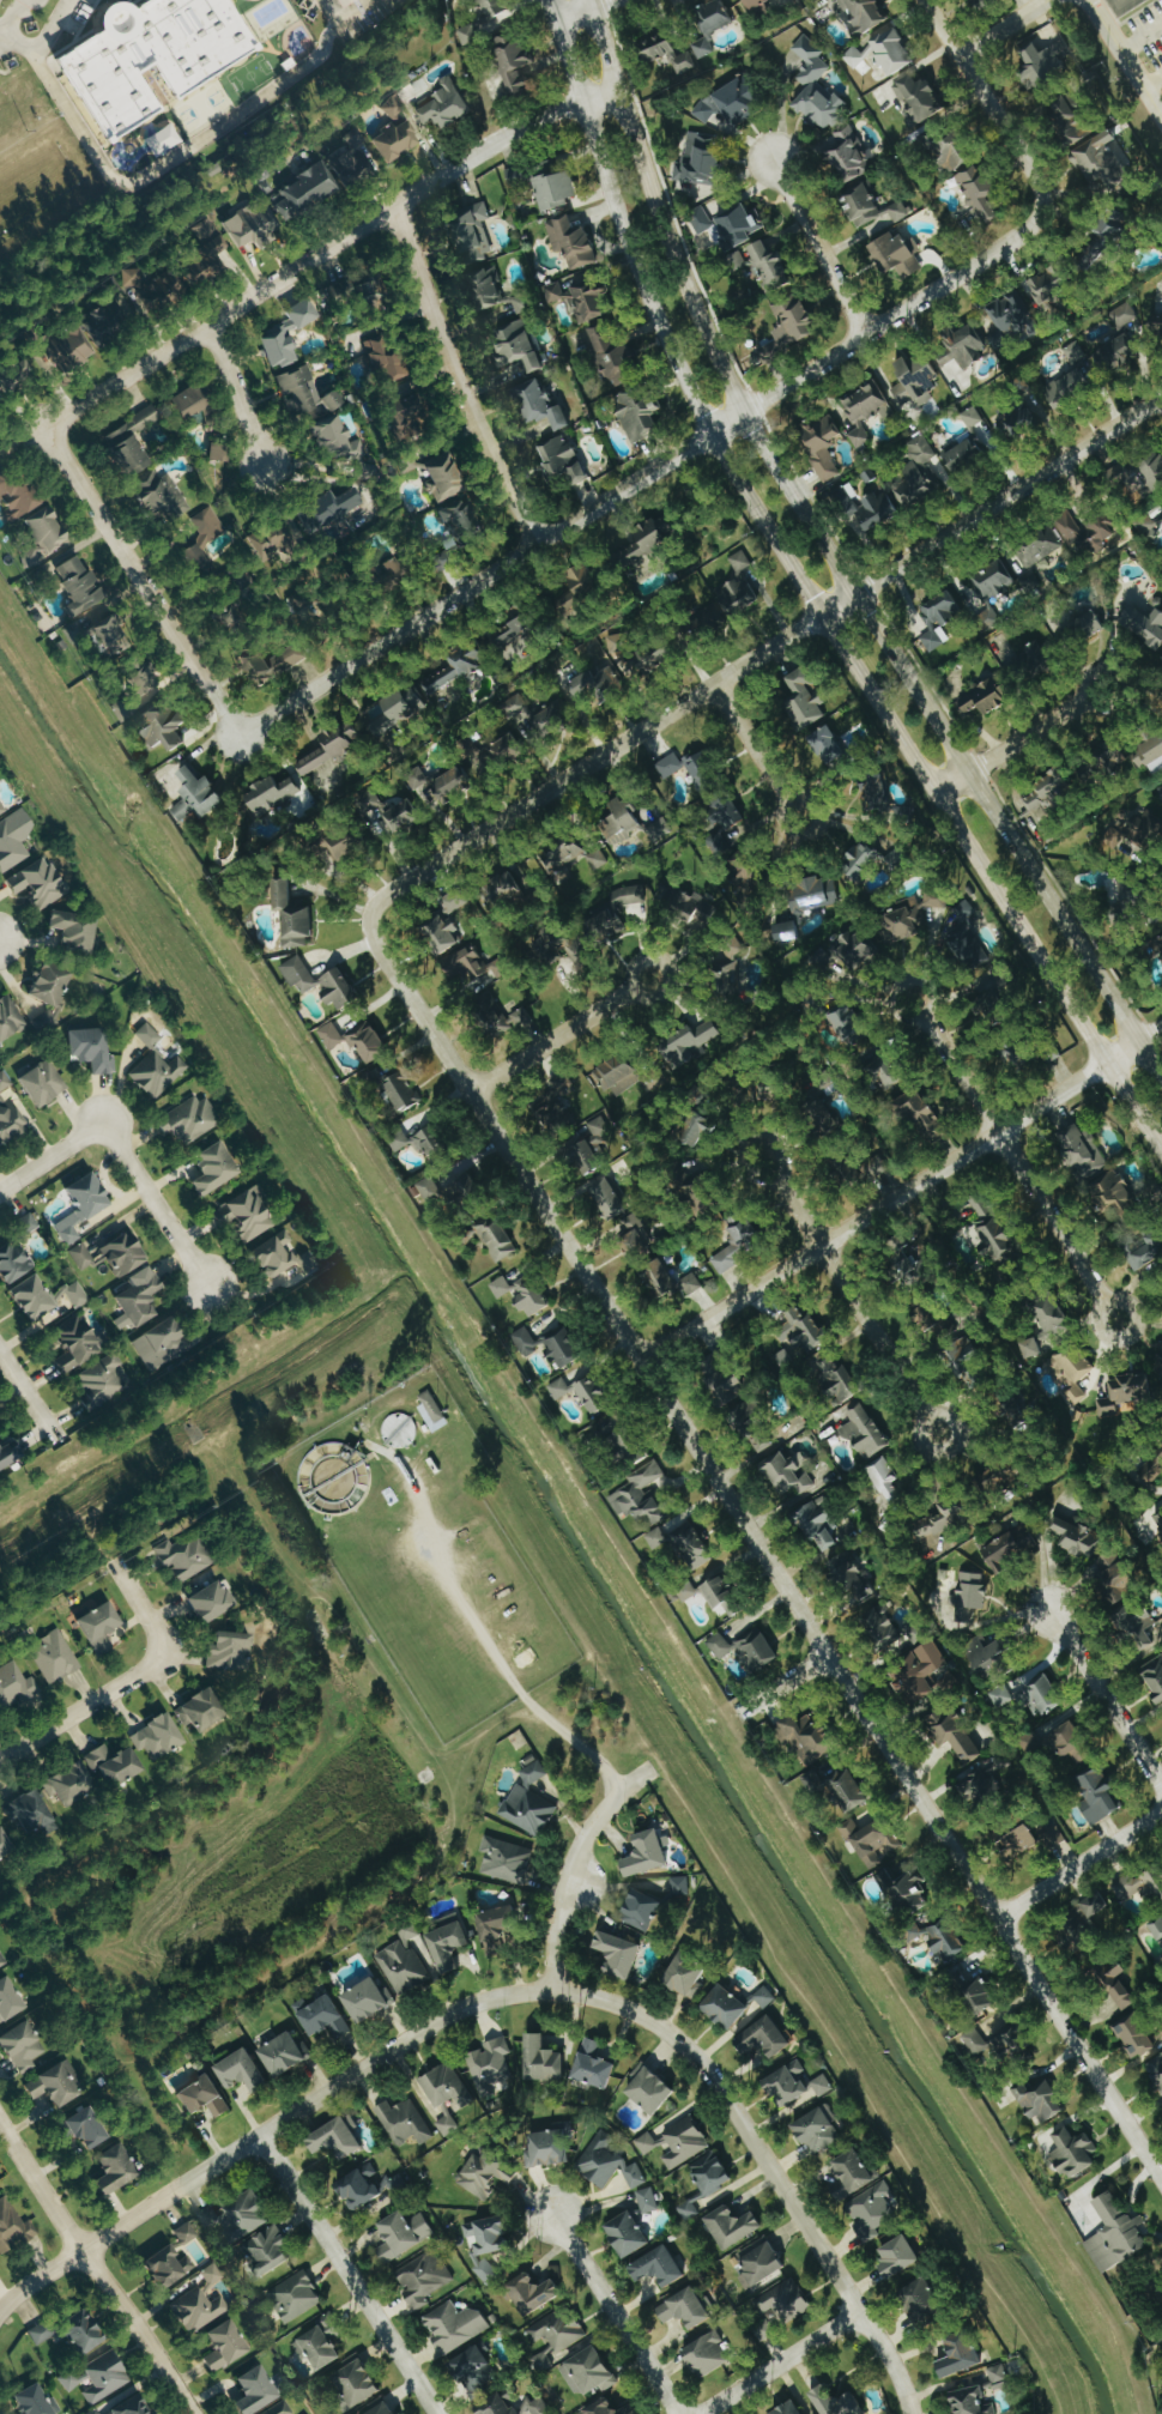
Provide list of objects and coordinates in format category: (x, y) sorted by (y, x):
road: (1045, 1)
building: (979, 2)
road: (587, 4)
building: (494, 7)
building: (757, 7)
road: (549, 10)
road: (581, 10)
building: (861, 14)
road: (349, 17)
building: (713, 17)
road: (10, 18)
road: (48, 28)
road: (1001, 29)
building: (467, 34)
road: (1140, 37)
building: (702, 48)
building: (666, 53)
building: (882, 54)
building: (147, 55)
road: (1124, 58)
building: (1046, 62)
road: (1152, 83)
building: (816, 86)
building: (918, 97)
building: (731, 102)
building: (442, 105)
building: (393, 107)
road: (993, 110)
building: (1070, 119)
building: (161, 140)
building: (394, 140)
building: (951, 151)
building: (846, 153)
building: (353, 155)
building: (698, 159)
building: (1100, 164)
road: (159, 167)
building: (543, 169)
building: (514, 175)
building: (307, 187)
building: (555, 190)
building: (978, 193)
building: (860, 205)
building: (282, 206)
building: (897, 211)
building: (701, 219)
building: (249, 225)
building: (736, 226)
building: (202, 229)
building: (472, 232)
building: (571, 242)
building: (1102, 243)
road: (818, 247)
road: (327, 250)
building: (895, 255)
building: (736, 261)
building: (200, 264)
building: (768, 266)
building: (1043, 284)
building: (483, 288)
building: (327, 296)
building: (364, 296)
building: (579, 300)
building: (120, 304)
building: (519, 304)
road: (700, 310)
building: (1124, 314)
building: (1006, 315)
building: (794, 320)
building: (284, 337)
building: (516, 346)
building: (66, 350)
building: (1115, 353)
building: (610, 357)
building: (383, 362)
building: (13, 377)
building: (1070, 379)
road: (460, 380)
building: (915, 381)
building: (305, 394)
road: (240, 399)
building: (188, 401)
building: (538, 405)
building: (866, 405)
building: (636, 415)
building: (405, 417)
building: (972, 417)
building: (1016, 424)
building: (859, 436)
building: (333, 440)
building: (128, 443)
building: (821, 446)
building: (217, 452)
building: (963, 456)
building: (562, 461)
building: (918, 473)
building: (1151, 473)
building: (434, 474)
building: (1118, 474)
road: (636, 483)
building: (13, 495)
building: (157, 495)
building: (328, 508)
building: (861, 509)
building: (206, 526)
building: (1146, 528)
building: (459, 530)
building: (271, 533)
building: (1087, 533)
building: (40, 536)
building: (643, 542)
building: (1036, 550)
building: (193, 562)
building: (392, 573)
building: (240, 579)
building: (994, 581)
building: (75, 585)
road: (141, 586)
building: (576, 587)
building: (728, 597)
building: (301, 604)
road: (817, 605)
building: (937, 619)
building: (1144, 625)
building: (1085, 627)
building: (510, 634)
building: (95, 637)
building: (618, 643)
road: (758, 654)
building: (292, 657)
building: (1035, 659)
building: (633, 661)
building: (454, 668)
building: (258, 670)
building: (137, 673)
building: (597, 685)
building: (803, 700)
building: (984, 700)
building: (515, 706)
building: (393, 712)
building: (549, 721)
building: (163, 726)
road: (1018, 739)
building: (825, 744)
building: (329, 748)
road: (756, 751)
building: (500, 752)
building: (1150, 755)
building: (1107, 758)
building: (668, 766)
building: (701, 773)
building: (438, 786)
building: (1046, 791)
building: (876, 794)
building: (270, 795)
building: (195, 797)
building: (0, 811)
building: (387, 816)
building: (619, 822)
building: (722, 824)
building: (659, 829)
building: (1144, 830)
road: (1009, 831)
building: (1113, 837)
building: (13, 840)
building: (339, 846)
building: (571, 859)
building: (872, 860)
building: (36, 884)
building: (502, 889)
building: (812, 895)
building: (629, 896)
building: (1127, 901)
building: (453, 902)
building: (686, 908)
building: (963, 909)
building: (291, 915)
building: (912, 915)
building: (603, 928)
building: (71, 931)
building: (786, 932)
building: (441, 934)
building: (1161, 940)
building: (559, 948)
building: (857, 949)
building: (964, 950)
road: (665, 966)
building: (473, 967)
building: (728, 976)
building: (320, 985)
building: (46, 997)
building: (992, 1005)
building: (498, 1015)
building: (8, 1017)
building: (147, 1035)
building: (329, 1036)
road: (552, 1043)
building: (689, 1045)
building: (368, 1046)
building: (89, 1048)
building: (1019, 1059)
building: (883, 1071)
building: (156, 1073)
building: (617, 1075)
building: (4, 1081)
building: (41, 1082)
building: (400, 1093)
building: (697, 1095)
building: (822, 1117)
building: (921, 1118)
building: (8, 1119)
building: (187, 1119)
building: (696, 1131)
building: (397, 1138)
building: (430, 1144)
road: (749, 1145)
building: (589, 1148)
building: (1081, 1151)
road: (49, 1158)
building: (211, 1168)
road: (1018, 1168)
building: (460, 1188)
building: (429, 1190)
road: (900, 1193)
building: (1114, 1196)
building: (606, 1198)
building: (698, 1198)
building: (981, 1204)
building: (79, 1205)
road: (151, 1206)
building: (243, 1214)
building: (23, 1224)
building: (635, 1235)
building: (495, 1238)
building: (995, 1240)
building: (738, 1245)
building: (1145, 1250)
building: (121, 1253)
building: (79, 1256)
building: (278, 1256)
building: (11, 1260)
building: (913, 1266)
building: (668, 1279)
building: (72, 1294)
building: (521, 1294)
building: (29, 1297)
building: (135, 1299)
road: (852, 1299)
building: (1051, 1320)
building: (801, 1329)
building: (523, 1341)
building: (74, 1343)
building: (158, 1343)
building: (562, 1347)
building: (1029, 1348)
building: (781, 1360)
building: (963, 1361)
building: (1158, 1367)
building: (1070, 1375)
building: (834, 1379)
building: (101, 1380)
building: (726, 1385)
building: (559, 1388)
building: (1122, 1392)
building: (591, 1394)
road: (29, 1398)
building: (431, 1410)
wastewater plant: (430, 1411)
building: (1015, 1412)
building: (745, 1417)
road: (927, 1418)
wastewater plant: (397, 1432)
building: (864, 1433)
building: (624, 1440)
building: (762, 1440)
building: (7, 1453)
building: (788, 1472)
wastewater plant: (332, 1478)
building: (885, 1478)
building: (641, 1494)
building: (940, 1520)
building: (1158, 1523)
building: (818, 1524)
building: (1076, 1536)
building: (683, 1544)
building: (1009, 1547)
road: (761, 1553)
building: (184, 1557)
building: (1110, 1577)
building: (852, 1579)
building: (713, 1595)
building: (969, 1596)
building: (208, 1602)
road: (141, 1604)
building: (1134, 1625)
building: (97, 1627)
road: (476, 1627)
building: (888, 1628)
building: (719, 1645)
building: (228, 1648)
building: (756, 1650)
building: (985, 1654)
building: (53, 1656)
building: (916, 1671)
building: (1154, 1676)
road: (783, 1683)
building: (14, 1684)
building: (1043, 1694)
road: (1104, 1694)
building: (1000, 1695)
road: (83, 1707)
building: (199, 1710)
building: (952, 1734)
building: (155, 1737)
building: (806, 1737)
building: (1069, 1742)
building: (111, 1763)
building: (67, 1783)
building: (981, 1786)
building: (837, 1789)
building: (1096, 1796)
building: (528, 1802)
building: (28, 1813)
building: (1053, 1831)
building: (870, 1840)
building: (1017, 1841)
building: (4, 1845)
building: (644, 1855)
building: (504, 1861)
road: (570, 1864)
road: (1077, 1864)
road: (575, 1881)
building: (1142, 1884)
building: (679, 1886)
building: (906, 1889)
building: (640, 1911)
building: (1100, 1911)
building: (495, 1928)
building: (1157, 1930)
building: (913, 1932)
building: (1072, 1935)
building: (945, 1941)
building: (446, 1942)
building: (616, 1954)
building: (2, 1960)
building: (403, 1962)
building: (683, 1976)
building: (1114, 1985)
building: (970, 1991)
building: (764, 1997)
building: (7, 1999)
building: (367, 1999)
building: (724, 2007)
building: (321, 2017)
building: (1133, 2035)
building: (762, 2039)
building: (974, 2041)
building: (1010, 2044)
building: (19, 2047)
building: (284, 2055)
building: (540, 2061)
building: (490, 2065)
building: (592, 2065)
building: (240, 2071)
building: (1156, 2071)
building: (54, 2083)
building: (787, 2085)
building: (822, 2086)
building: (446, 2087)
building: (648, 2089)
building: (201, 2098)
building: (1039, 2101)
building: (404, 2122)
building: (446, 2124)
building: (84, 2129)
building: (816, 2130)
road: (267, 2132)
building: (335, 2137)
building: (646, 2143)
building: (683, 2143)
building: (546, 2149)
building: (1072, 2152)
road: (765, 2162)
building: (606, 2164)
building: (111, 2170)
building: (852, 2171)
building: (484, 2174)
building: (704, 2182)
building: (395, 2183)
building: (358, 2188)
building: (647, 2201)
building: (871, 2210)
building: (236, 2216)
building: (12, 2227)
building: (731, 2227)
building: (182, 2234)
building: (401, 2234)
building: (625, 2234)
building: (1114, 2234)
building: (486, 2244)
building: (265, 2251)
building: (897, 2257)
building: (759, 2265)
building: (164, 2267)
building: (656, 2268)
road: (96, 2270)
building: (212, 2275)
road: (347, 2275)
building: (423, 2279)
building: (532, 2293)
building: (295, 2297)
building: (920, 2301)
building: (779, 2309)
building: (196, 2310)
building: (684, 2310)
road: (616, 2313)
building: (454, 2327)
building: (557, 2330)
building: (77, 2333)
building: (35, 2336)
building: (223, 2346)
building: (317, 2347)
building: (957, 2354)
building: (704, 2355)
building: (541, 2361)
road: (780, 2362)
building: (473, 2371)
building: (587, 2373)
building: (997, 2373)
building: (103, 2377)
building: (72, 2379)
building: (355, 2384)
building: (253, 2391)
building: (34, 2402)
building: (834, 2402)
building: (970, 2402)
building: (127, 2406)
building: (495, 2406)
building: (534, 2406)
building: (279, 2409)
building: (381, 2409)
building: (606, 2409)
building: (788, 2409)

